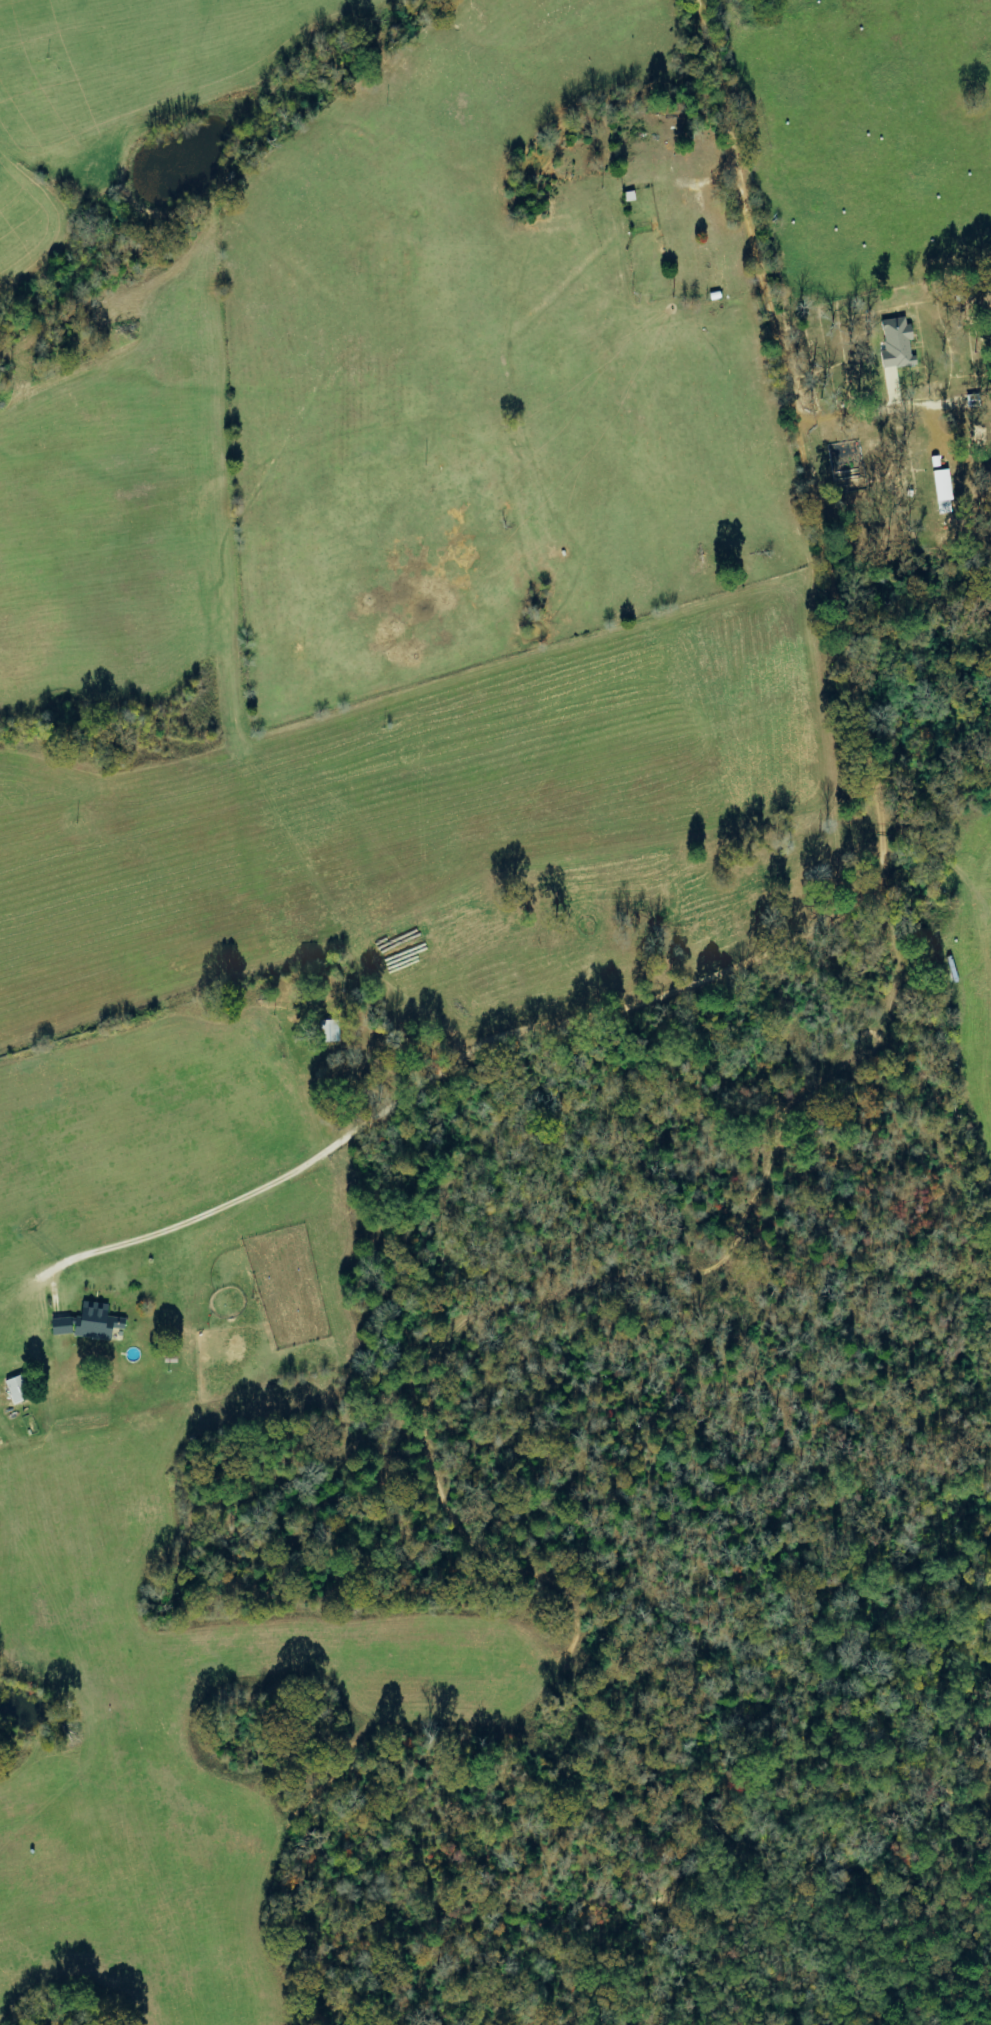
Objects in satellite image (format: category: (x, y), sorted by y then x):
building: (896, 344)
road: (798, 424)
building: (330, 1030)
building: (89, 1324)
building: (17, 1389)

